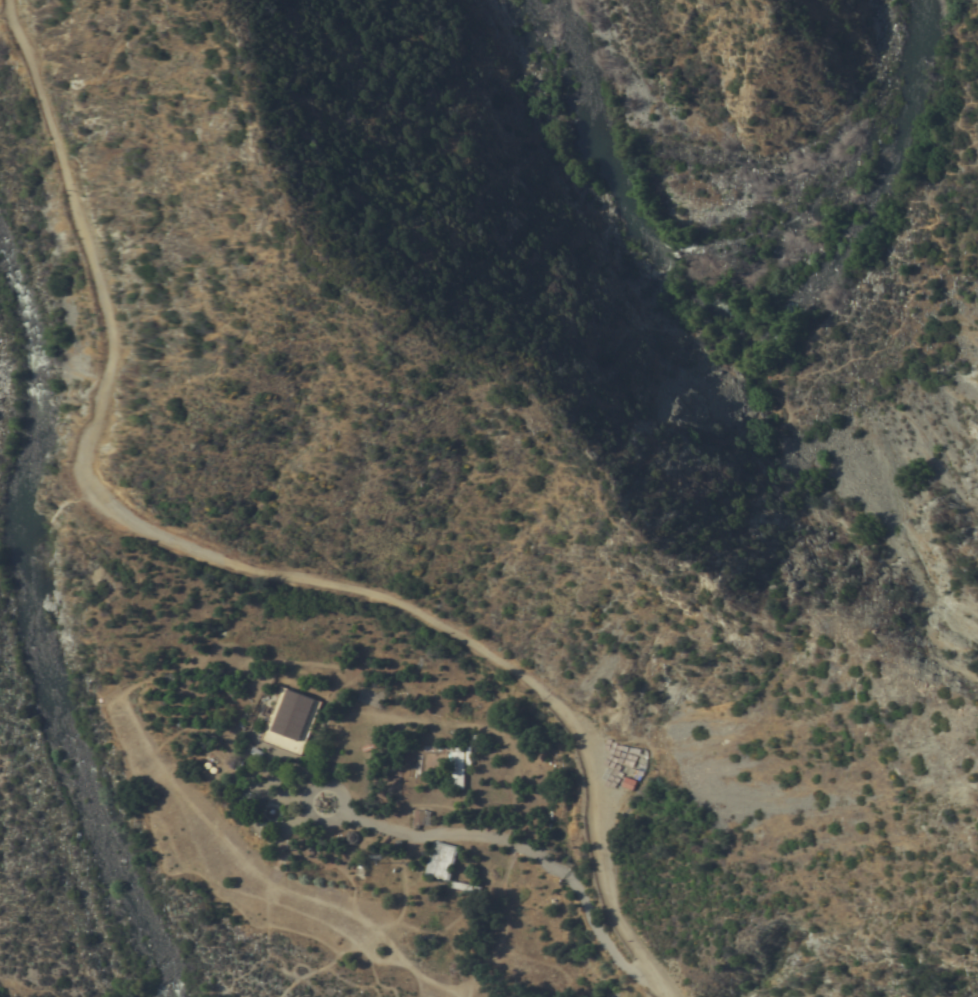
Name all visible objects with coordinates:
river: (742, 239)
river: (785, 305)
road: (754, 415)
road: (241, 566)
river: (49, 632)
building: (292, 720)
building: (457, 769)
building: (422, 818)
building: (352, 836)
road: (523, 848)
building: (443, 859)
building: (361, 870)
building: (467, 887)

